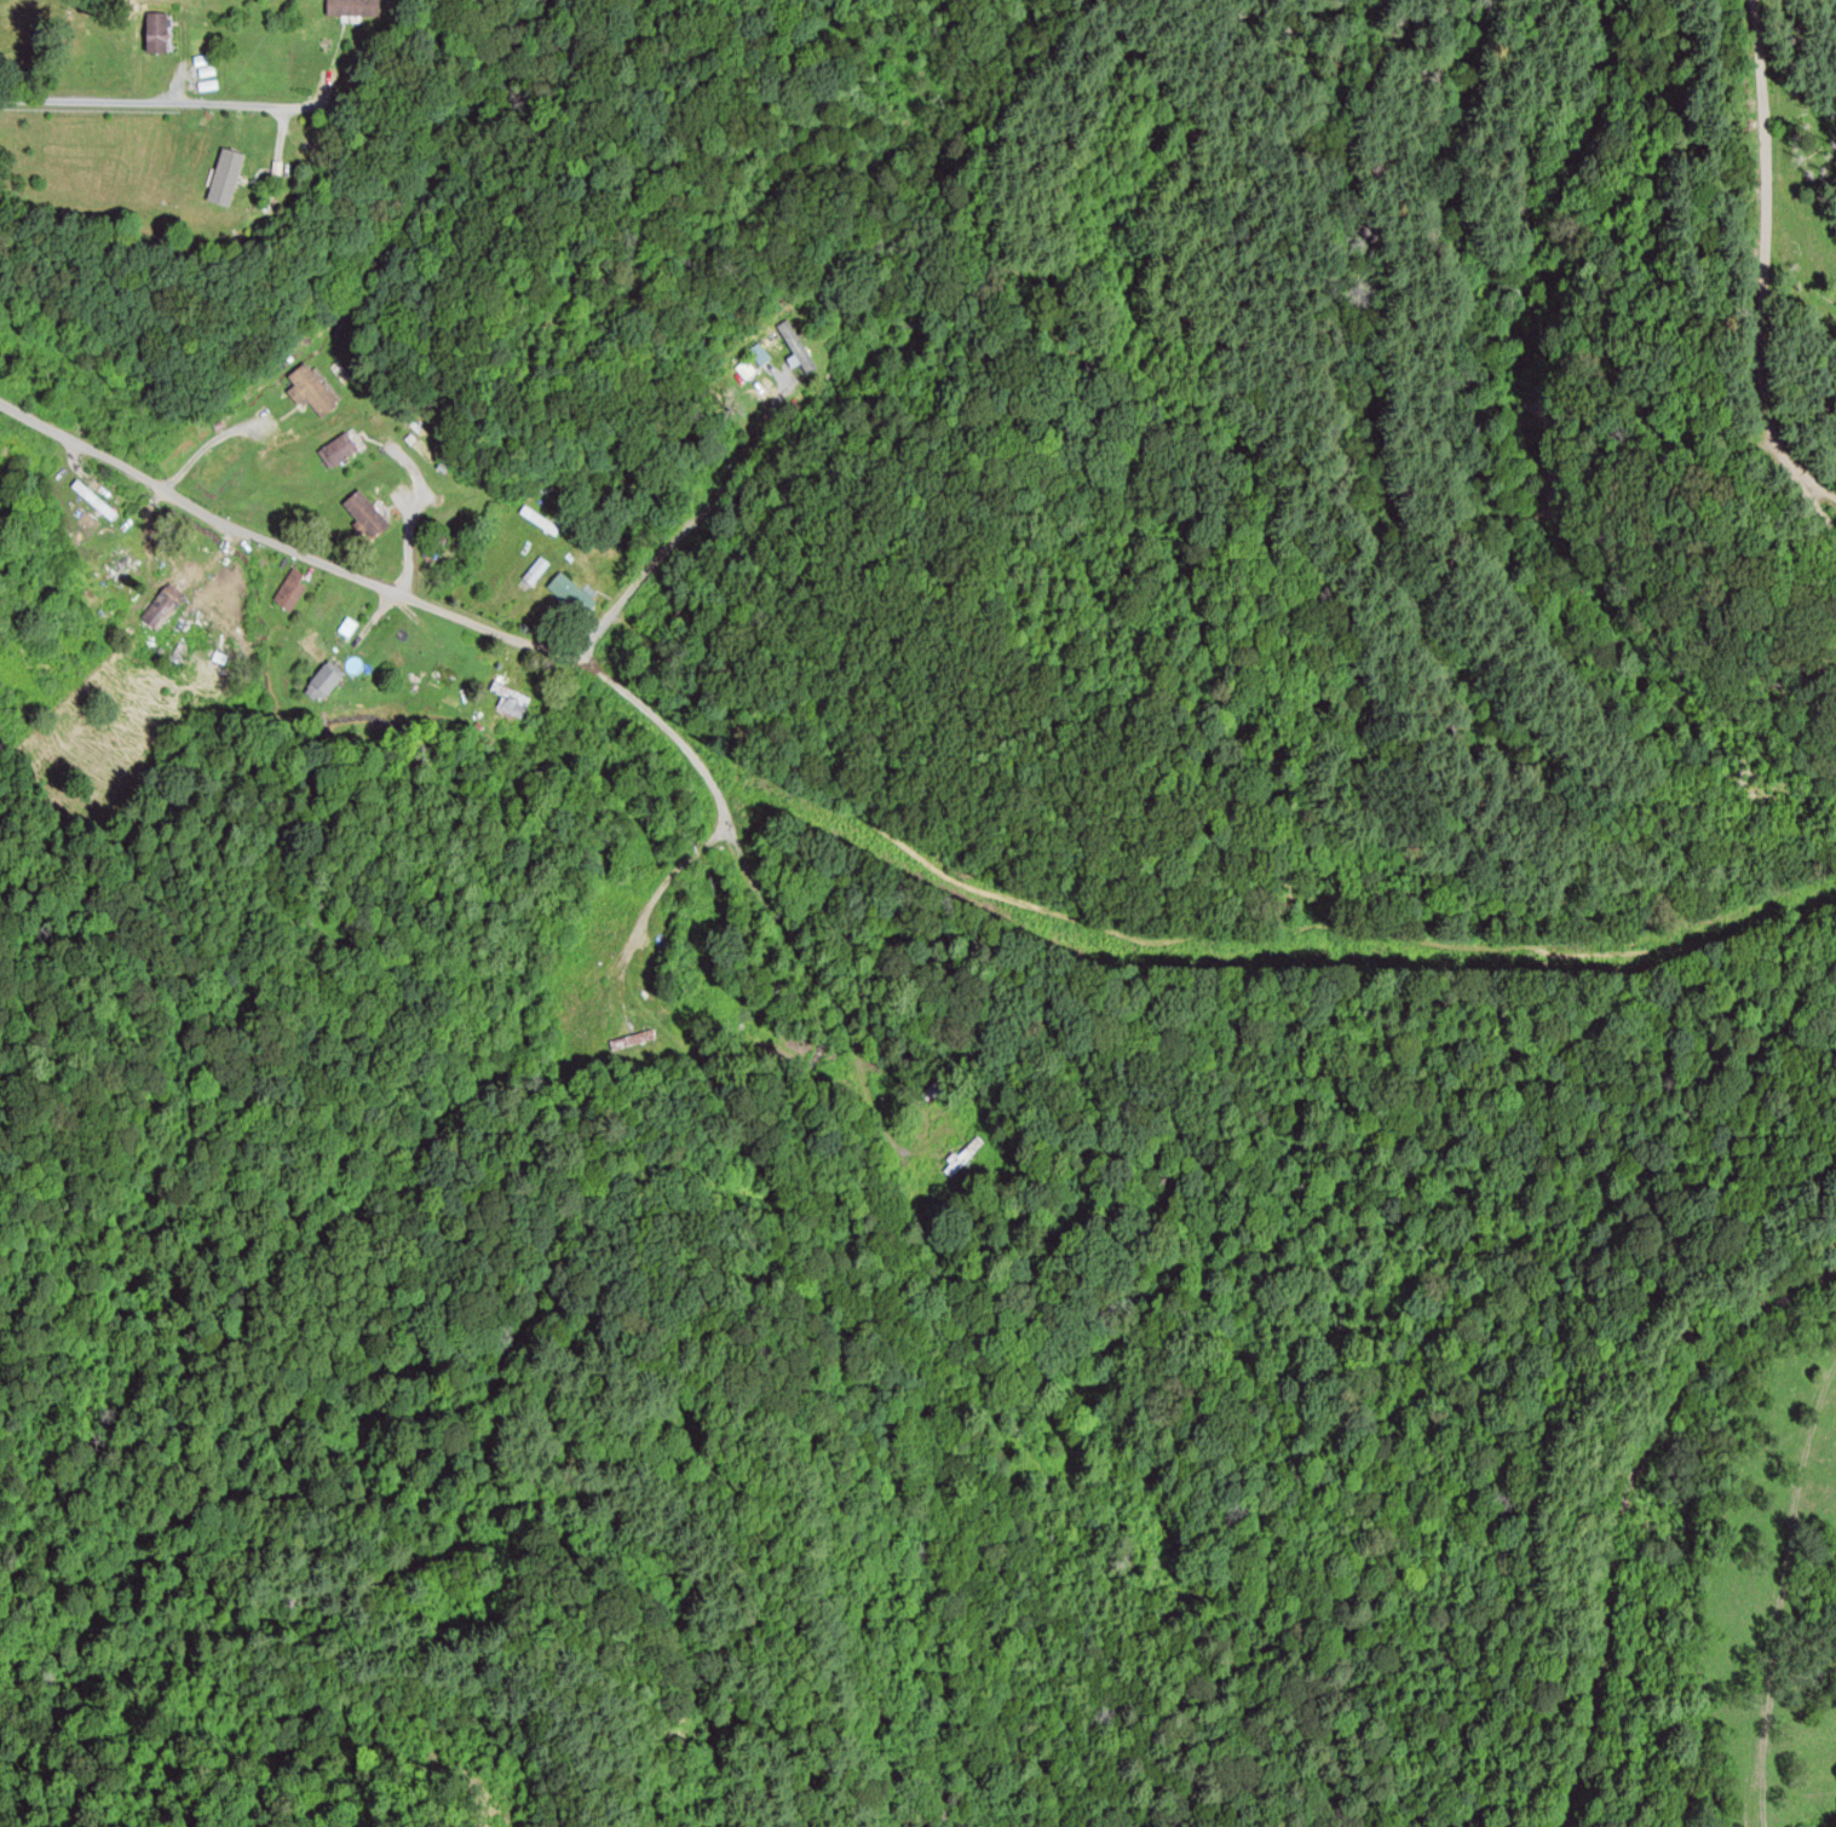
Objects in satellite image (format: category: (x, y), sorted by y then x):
building: (353, 8)
building: (159, 34)
road: (148, 103)
building: (252, 155)
building: (760, 356)
building: (311, 392)
road: (207, 442)
building: (339, 451)
building: (97, 503)
building: (366, 517)
building: (540, 521)
road: (681, 523)
building: (122, 564)
building: (536, 571)
building: (292, 589)
building: (566, 590)
building: (161, 607)
road: (461, 616)
building: (347, 628)
building: (323, 685)
building: (510, 699)
road: (1180, 930)
building: (931, 1093)
building: (962, 1157)

